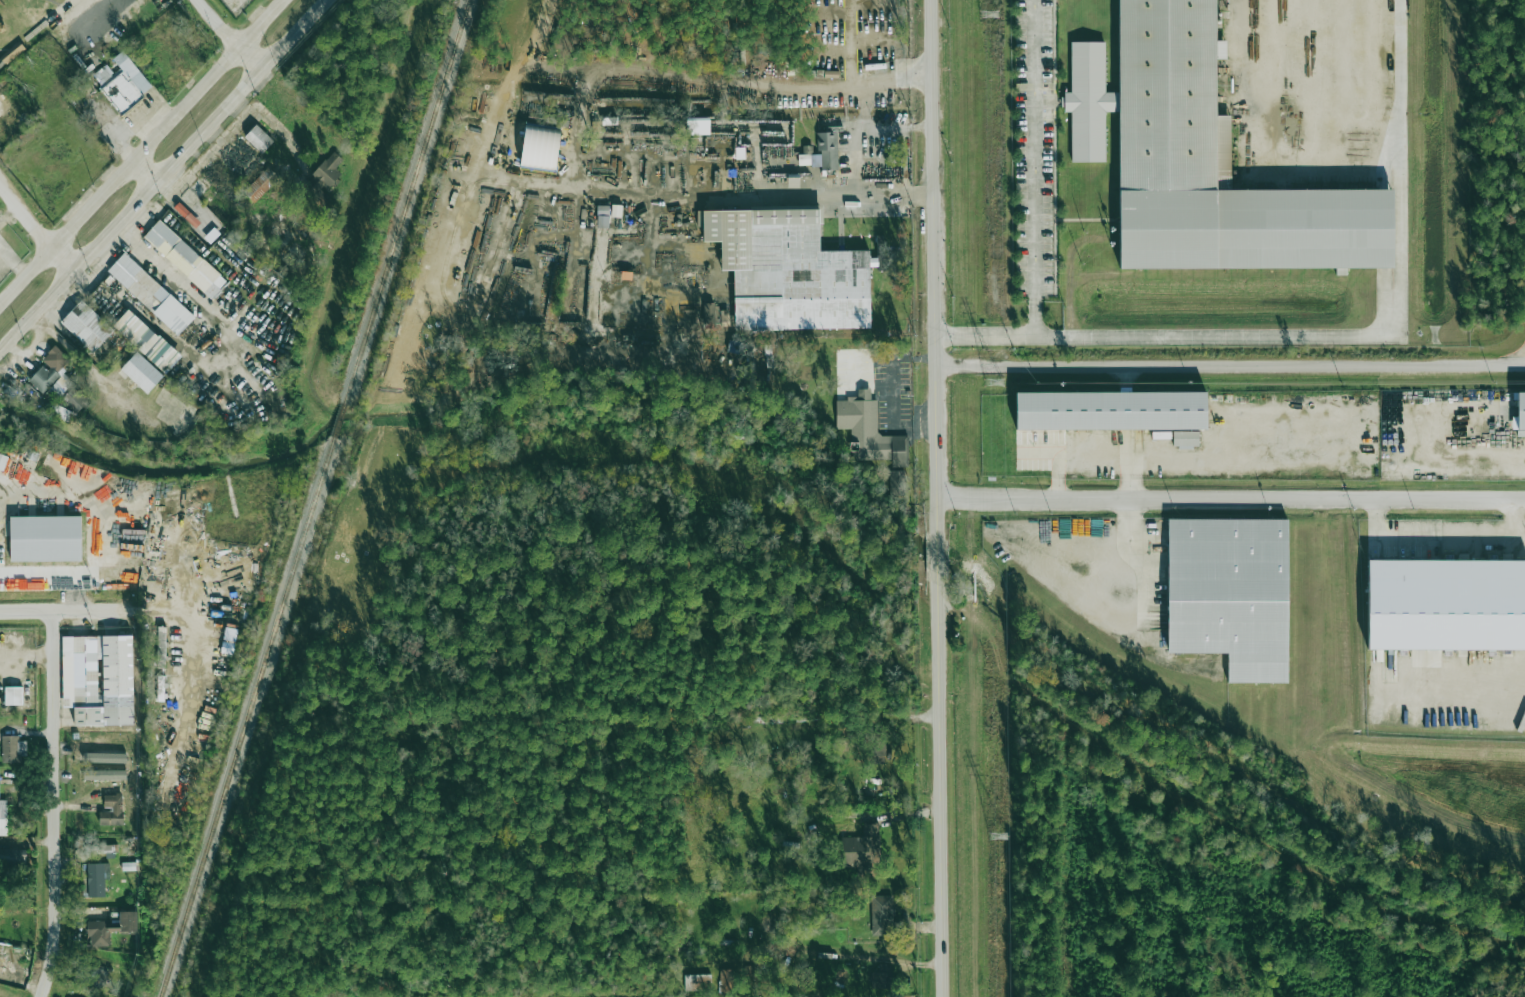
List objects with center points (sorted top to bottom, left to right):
road: (91, 13)
power tower: (989, 14)
road: (228, 34)
building: (121, 92)
road: (142, 116)
building: (698, 125)
road: (896, 127)
road: (115, 129)
road: (576, 133)
building: (258, 138)
road: (859, 140)
parking lot: (1034, 146)
building: (540, 148)
road: (1035, 148)
building: (823, 150)
road: (141, 152)
building: (1217, 167)
road: (145, 169)
road: (160, 172)
building: (327, 172)
building: (261, 184)
railway: (408, 201)
building: (616, 210)
building: (0, 215)
building: (603, 216)
road: (38, 220)
road: (159, 260)
building: (184, 260)
building: (789, 270)
building: (151, 294)
building: (710, 313)
road: (1035, 316)
building: (86, 326)
road: (1325, 329)
building: (146, 340)
building: (49, 368)
building: (142, 371)
road: (1229, 372)
power tower: (992, 382)
building: (70, 393)
building: (1110, 410)
building: (62, 412)
building: (1520, 415)
railway: (339, 419)
building: (869, 430)
building: (1186, 438)
road: (1091, 456)
building: (897, 483)
road: (936, 498)
road: (1230, 500)
building: (45, 538)
road: (767, 547)
building: (1230, 593)
building: (1446, 604)
road: (61, 610)
building: (98, 679)
building: (13, 695)
railway: (247, 716)
building: (13, 748)
road: (58, 804)
building: (111, 810)
building: (3, 817)
power tower: (998, 837)
building: (861, 847)
building: (100, 848)
building: (13, 857)
building: (97, 878)
building: (881, 915)
building: (110, 928)
building: (96, 975)
building: (879, 979)
building: (726, 980)
building: (697, 982)

